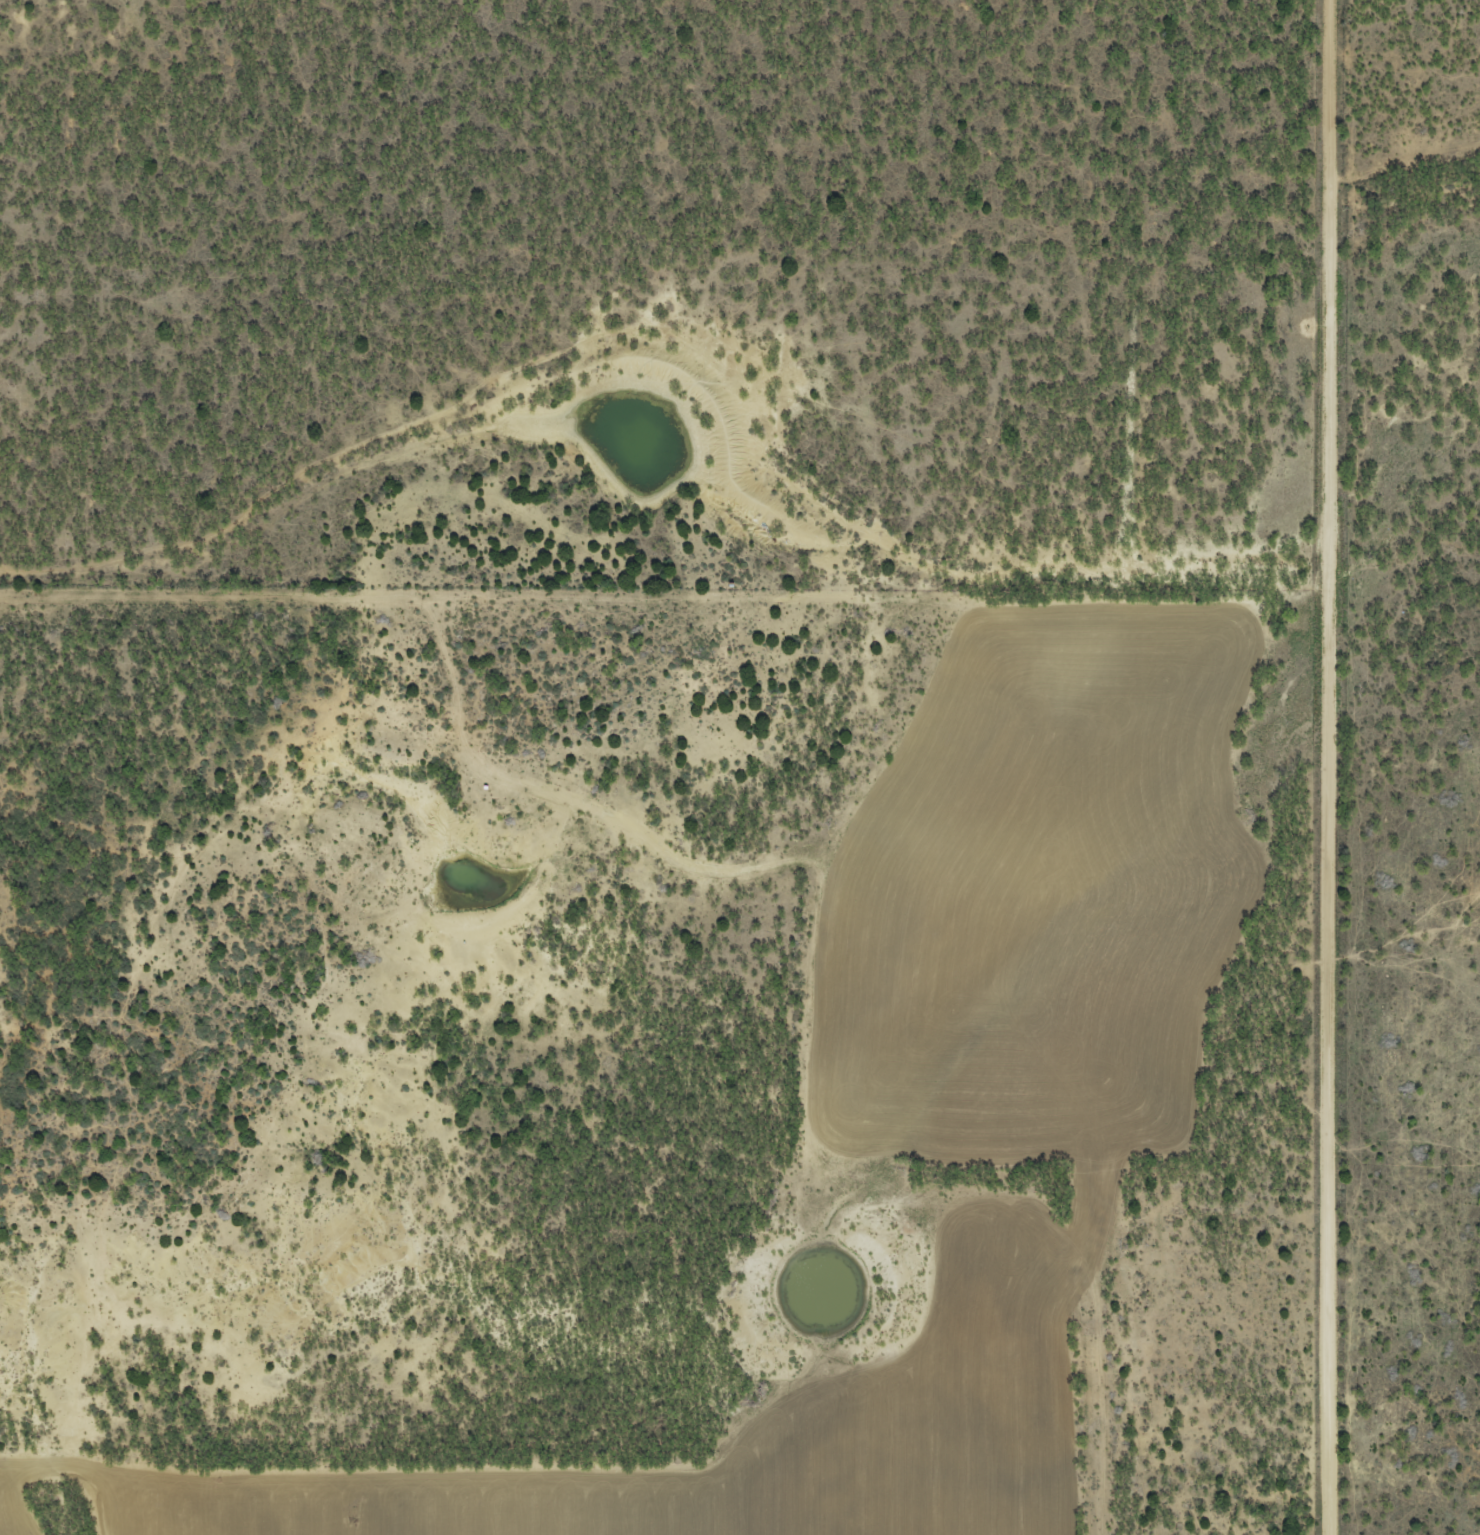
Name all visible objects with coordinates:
road: (1339, 767)

